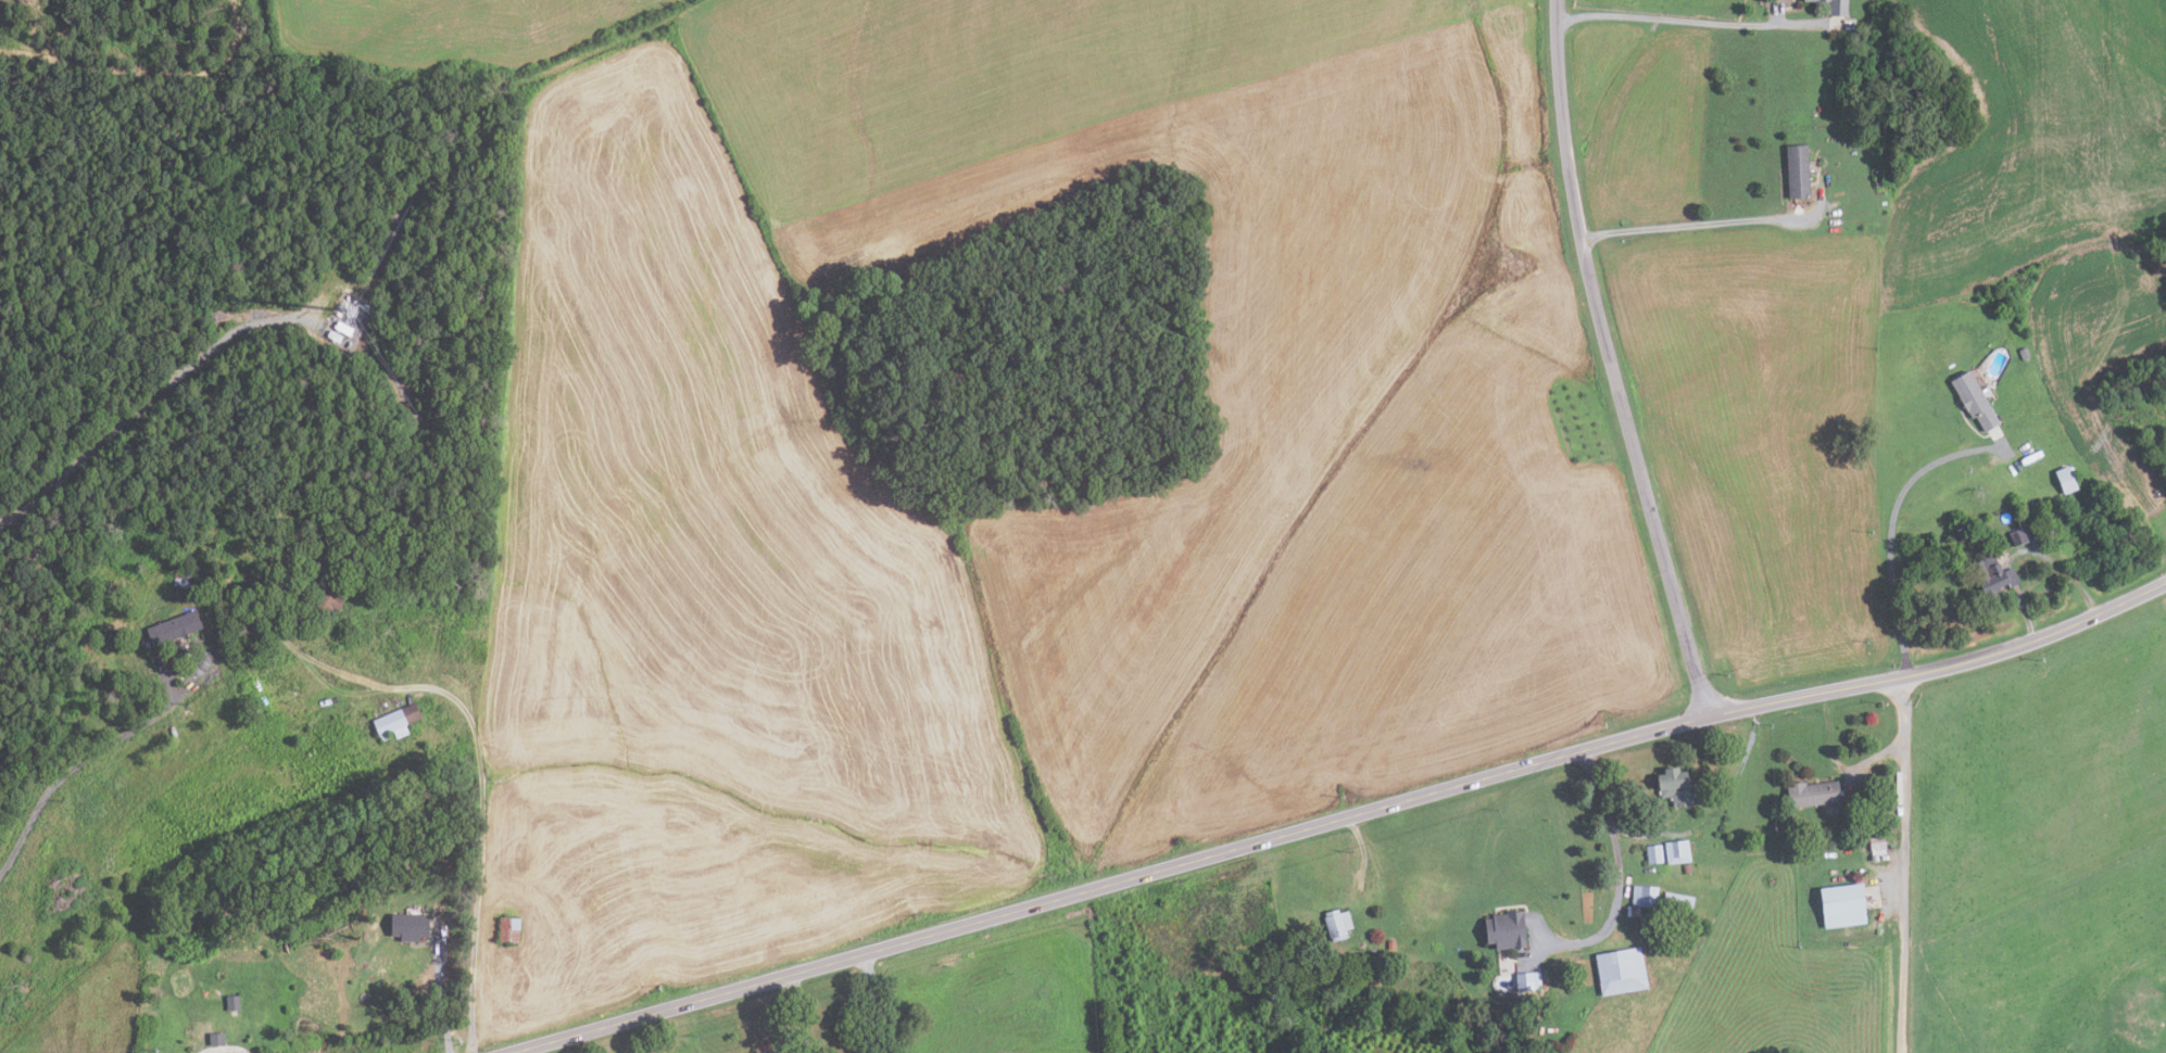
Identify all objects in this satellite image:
building: (1833, 7)
road: (1691, 21)
building: (1819, 107)
building: (1796, 170)
building: (1877, 180)
road: (1701, 232)
building: (2023, 353)
road: (1614, 360)
building: (1972, 399)
road: (147, 406)
building: (2064, 480)
building: (2023, 520)
road: (1889, 529)
building: (2016, 536)
building: (303, 571)
building: (1990, 573)
road: (2043, 575)
building: (182, 576)
building: (328, 594)
crop: (704, 605)
building: (174, 627)
building: (116, 634)
building: (400, 719)
building: (191, 744)
road: (1902, 751)
road: (91, 754)
road: (479, 762)
building: (1673, 785)
building: (1640, 792)
building: (1811, 792)
road: (1705, 803)
road: (1336, 815)
building: (1876, 845)
building: (1675, 850)
building: (1651, 853)
building: (1685, 868)
road: (1614, 871)
building: (1642, 897)
building: (1676, 904)
building: (1841, 905)
building: (1634, 911)
building: (1335, 924)
building: (412, 926)
building: (511, 929)
building: (1502, 929)
building: (1434, 934)
road: (1903, 940)
building: (1390, 944)
building: (1620, 969)
building: (1525, 980)
road: (440, 990)
building: (213, 992)
building: (234, 1002)
road: (873, 1002)
road: (801, 1013)
building: (218, 1039)
crop: (665, 1042)
road: (224, 1046)
building: (764, 1052)
building: (770, 1052)

